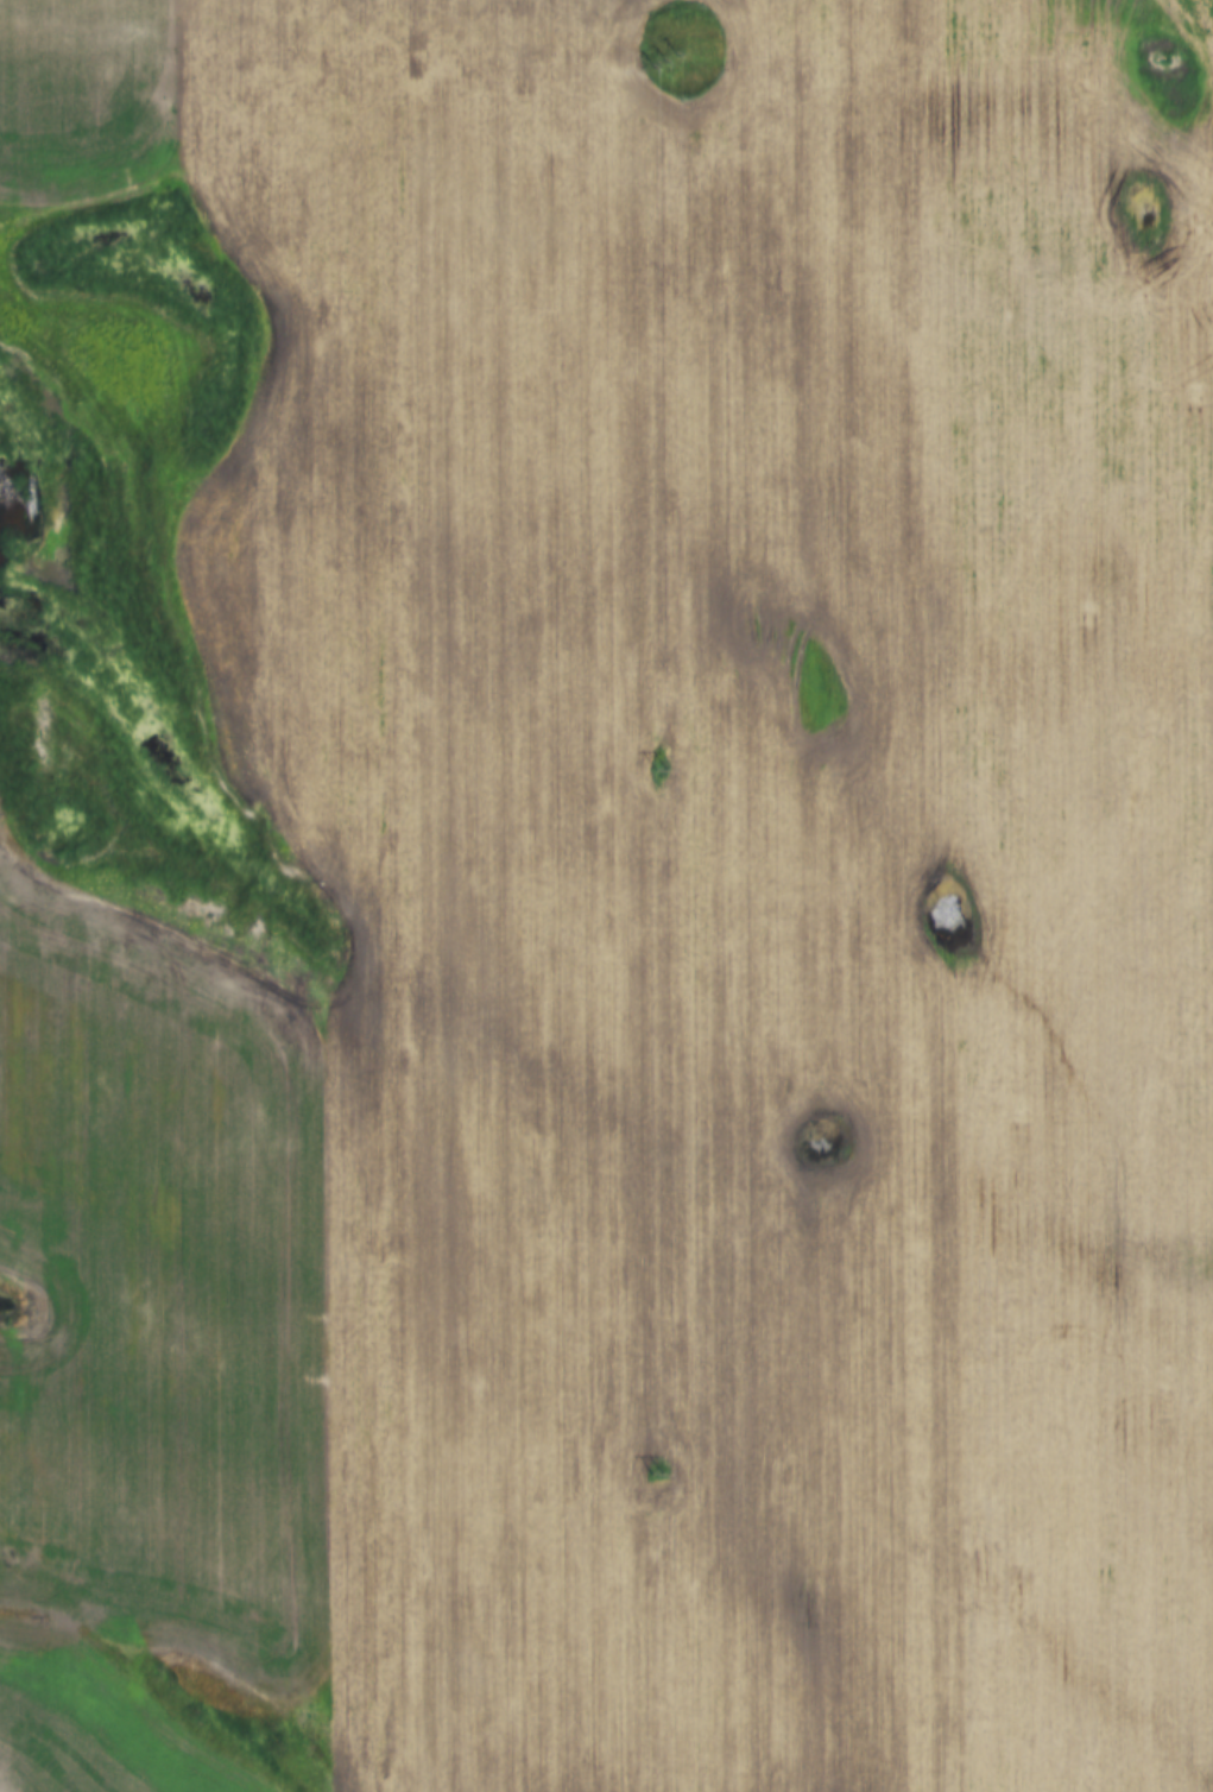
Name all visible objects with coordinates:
power tower: (663, 57)
power tower: (656, 771)
power tower: (653, 1475)

